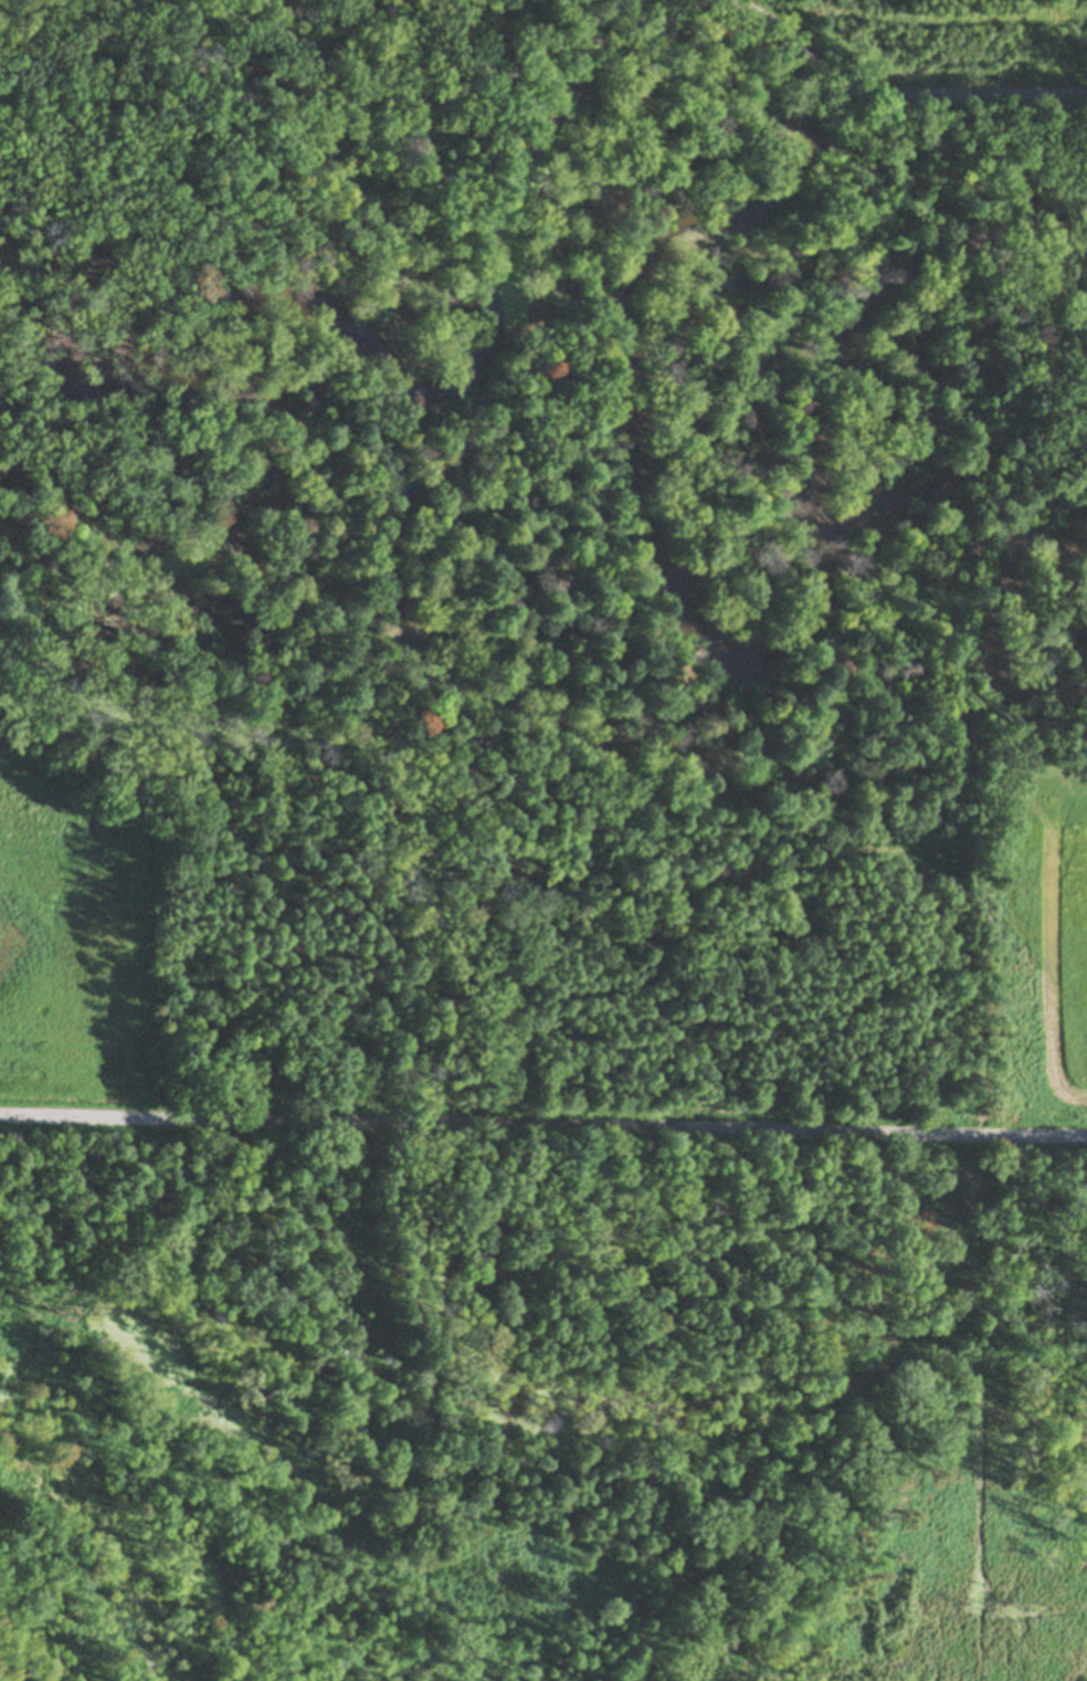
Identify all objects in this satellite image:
road: (890, 95)
road: (330, 102)
road: (542, 1126)

